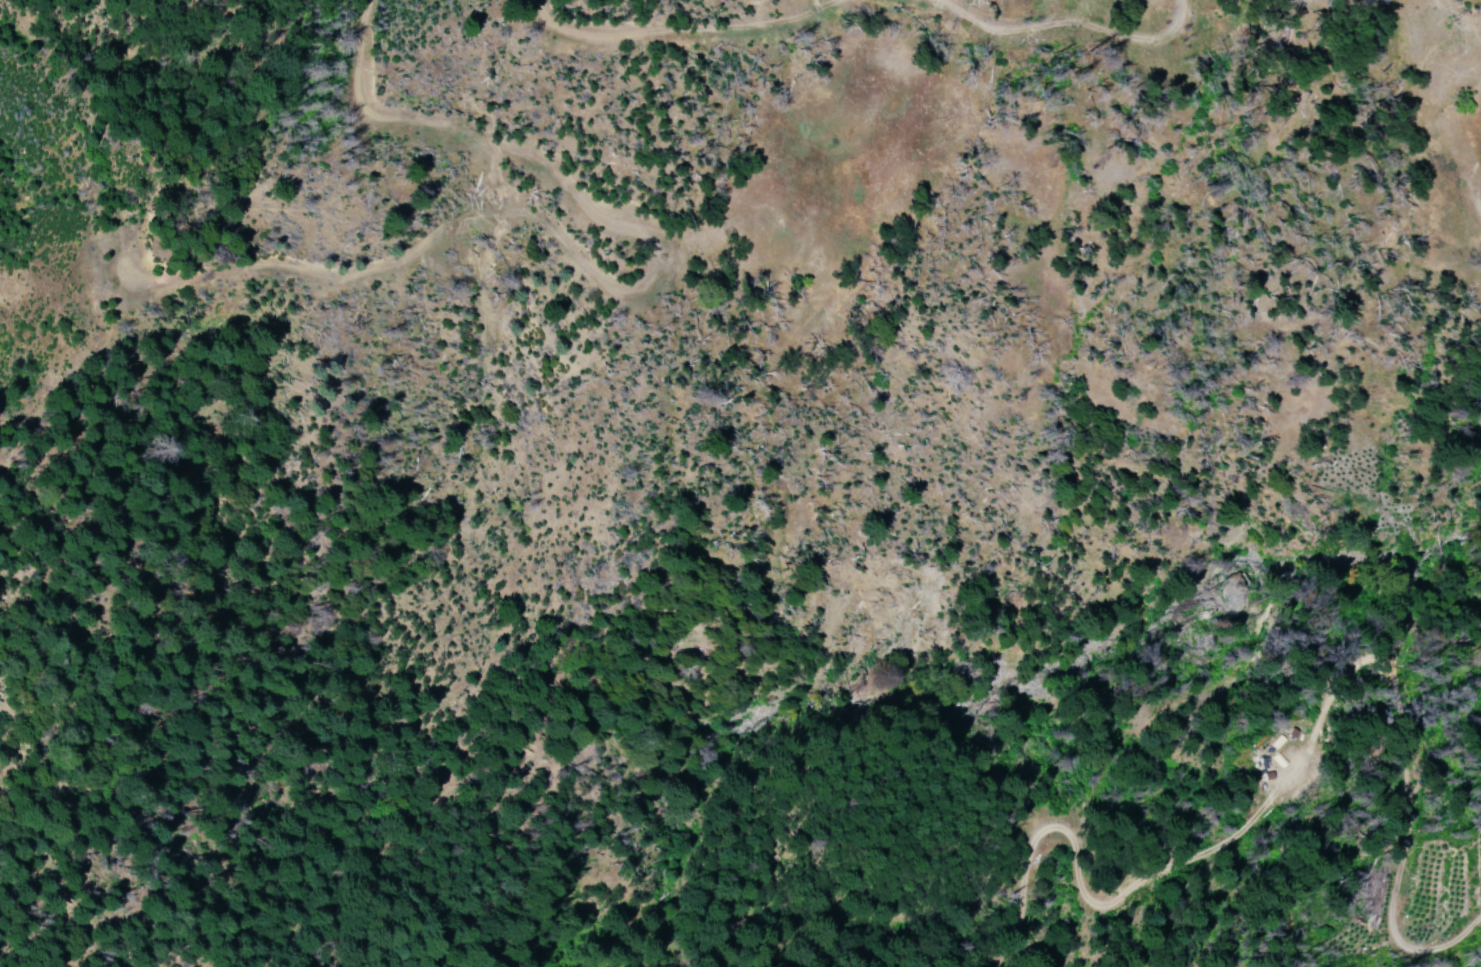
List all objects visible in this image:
road: (1024, 963)

